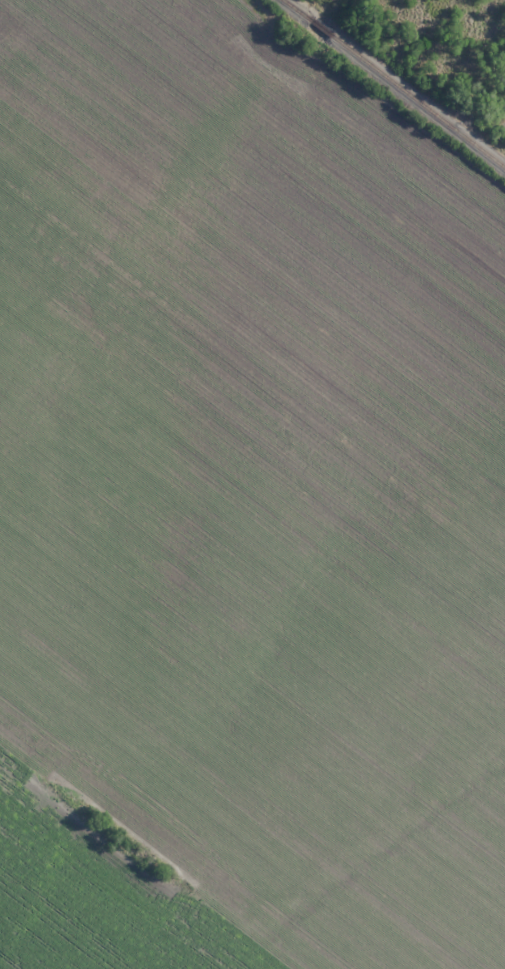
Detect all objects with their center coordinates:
railway: (393, 82)
crop: (242, 511)

